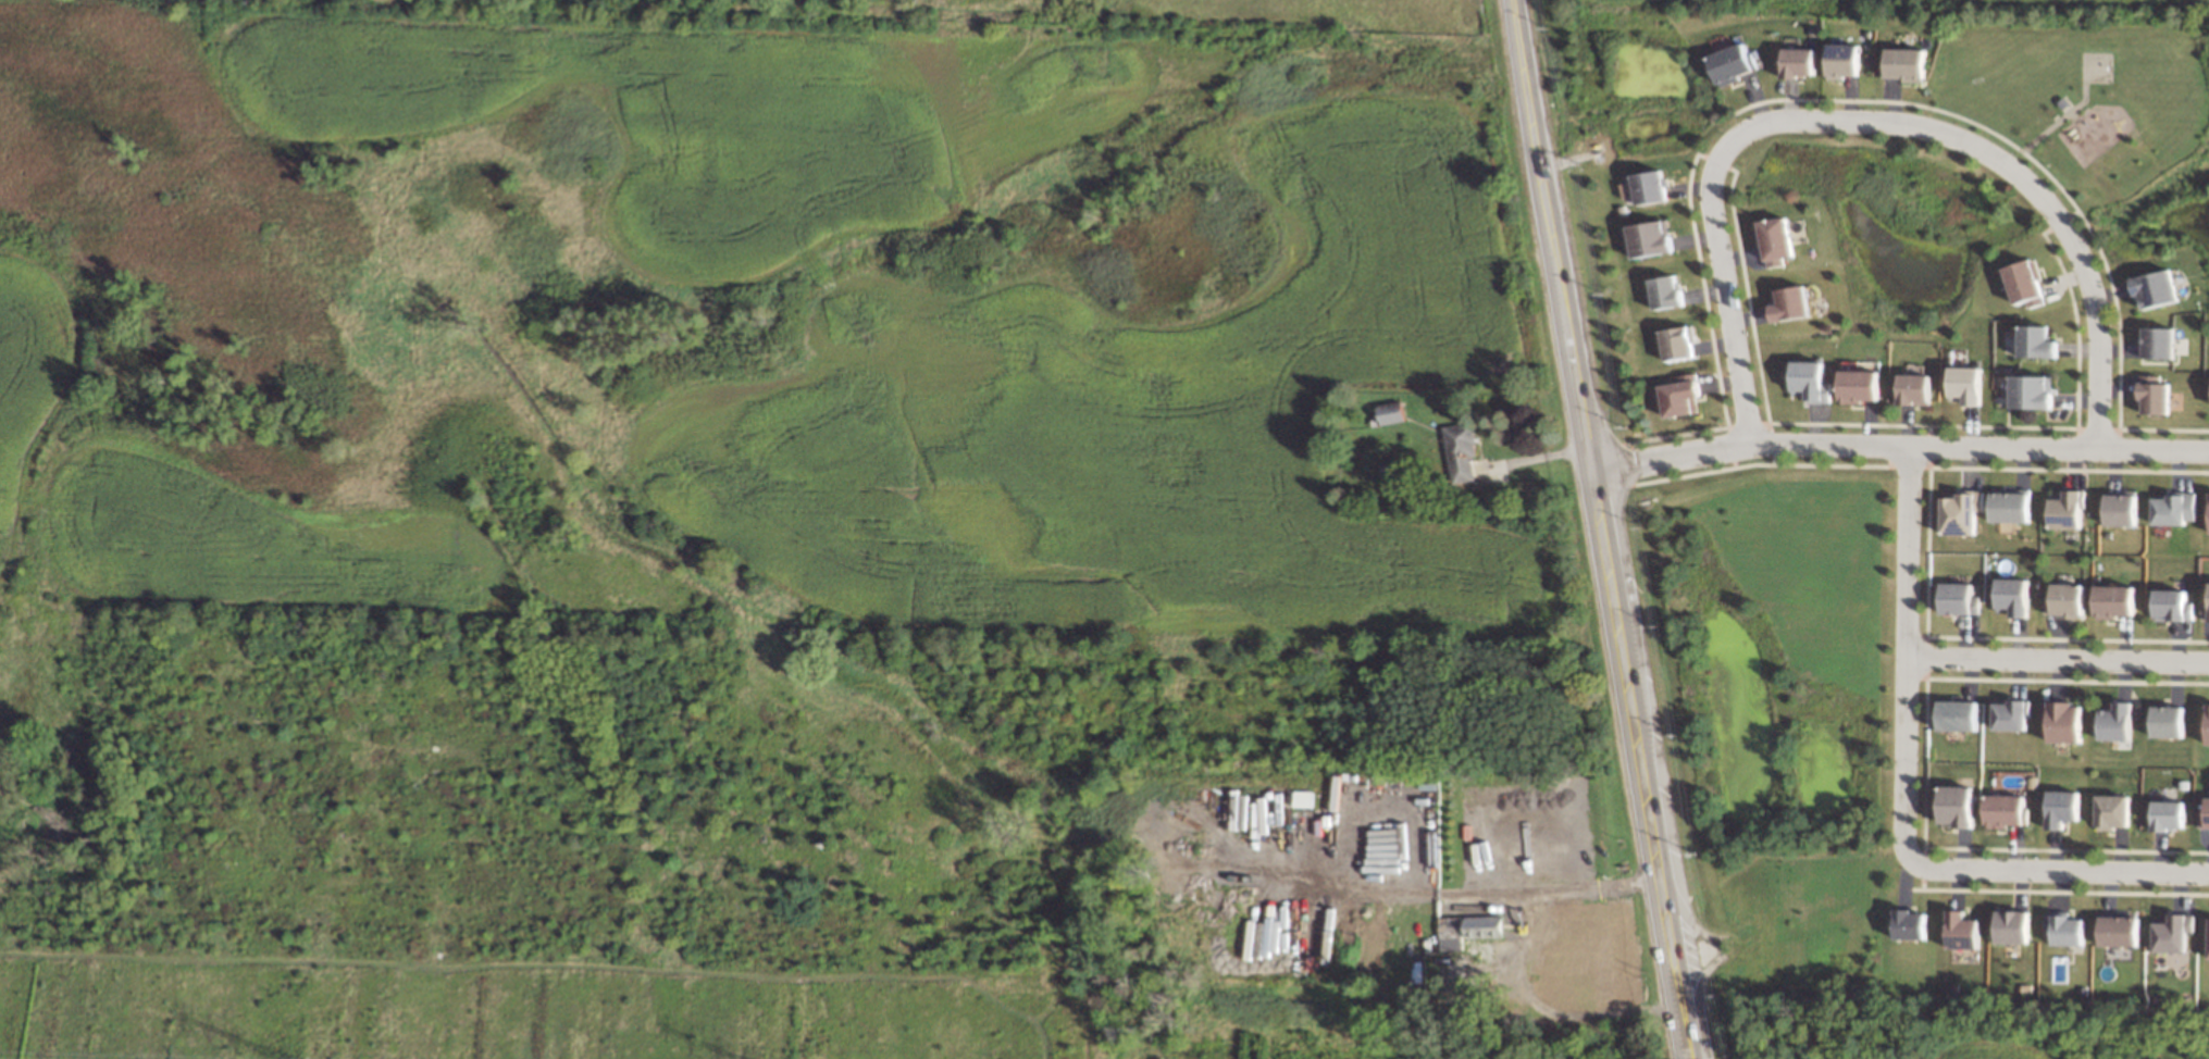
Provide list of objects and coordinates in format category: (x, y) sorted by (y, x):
building: (1842, 60)
building: (1799, 62)
building: (1732, 63)
building: (1906, 64)
road: (1876, 121)
building: (1651, 187)
building: (1650, 238)
building: (1775, 239)
building: (2025, 283)
building: (2155, 288)
building: (1666, 291)
building: (1789, 302)
building: (2036, 341)
building: (2158, 341)
building: (1677, 342)
building: (1810, 381)
building: (1965, 384)
building: (1859, 386)
building: (1914, 388)
building: (2031, 391)
building: (1681, 395)
building: (2154, 395)
building: (1390, 412)
road: (1898, 445)
building: (1460, 451)
building: (2009, 504)
building: (2120, 508)
building: (2172, 508)
building: (2064, 509)
building: (1961, 511)
building: (2208, 518)
road: (1600, 529)
building: (2012, 596)
building: (1958, 598)
building: (2064, 600)
building: (2113, 600)
building: (2171, 605)
building: (2205, 610)
road: (1904, 653)
road: (2057, 660)
building: (2009, 713)
building: (1957, 714)
building: (2062, 720)
building: (2114, 721)
building: (2167, 721)
building: (2207, 724)
building: (1302, 798)
building: (1954, 805)
building: (2061, 808)
building: (2005, 810)
building: (2111, 811)
building: (2167, 814)
building: (2204, 815)
road: (2059, 870)
road: (1592, 882)
road: (1410, 889)
building: (1909, 924)
building: (1484, 925)
building: (2011, 925)
building: (2063, 927)
building: (2119, 929)
building: (1961, 930)
building: (2172, 932)
building: (1450, 933)
road: (1544, 1009)
crop: (501, 1017)

